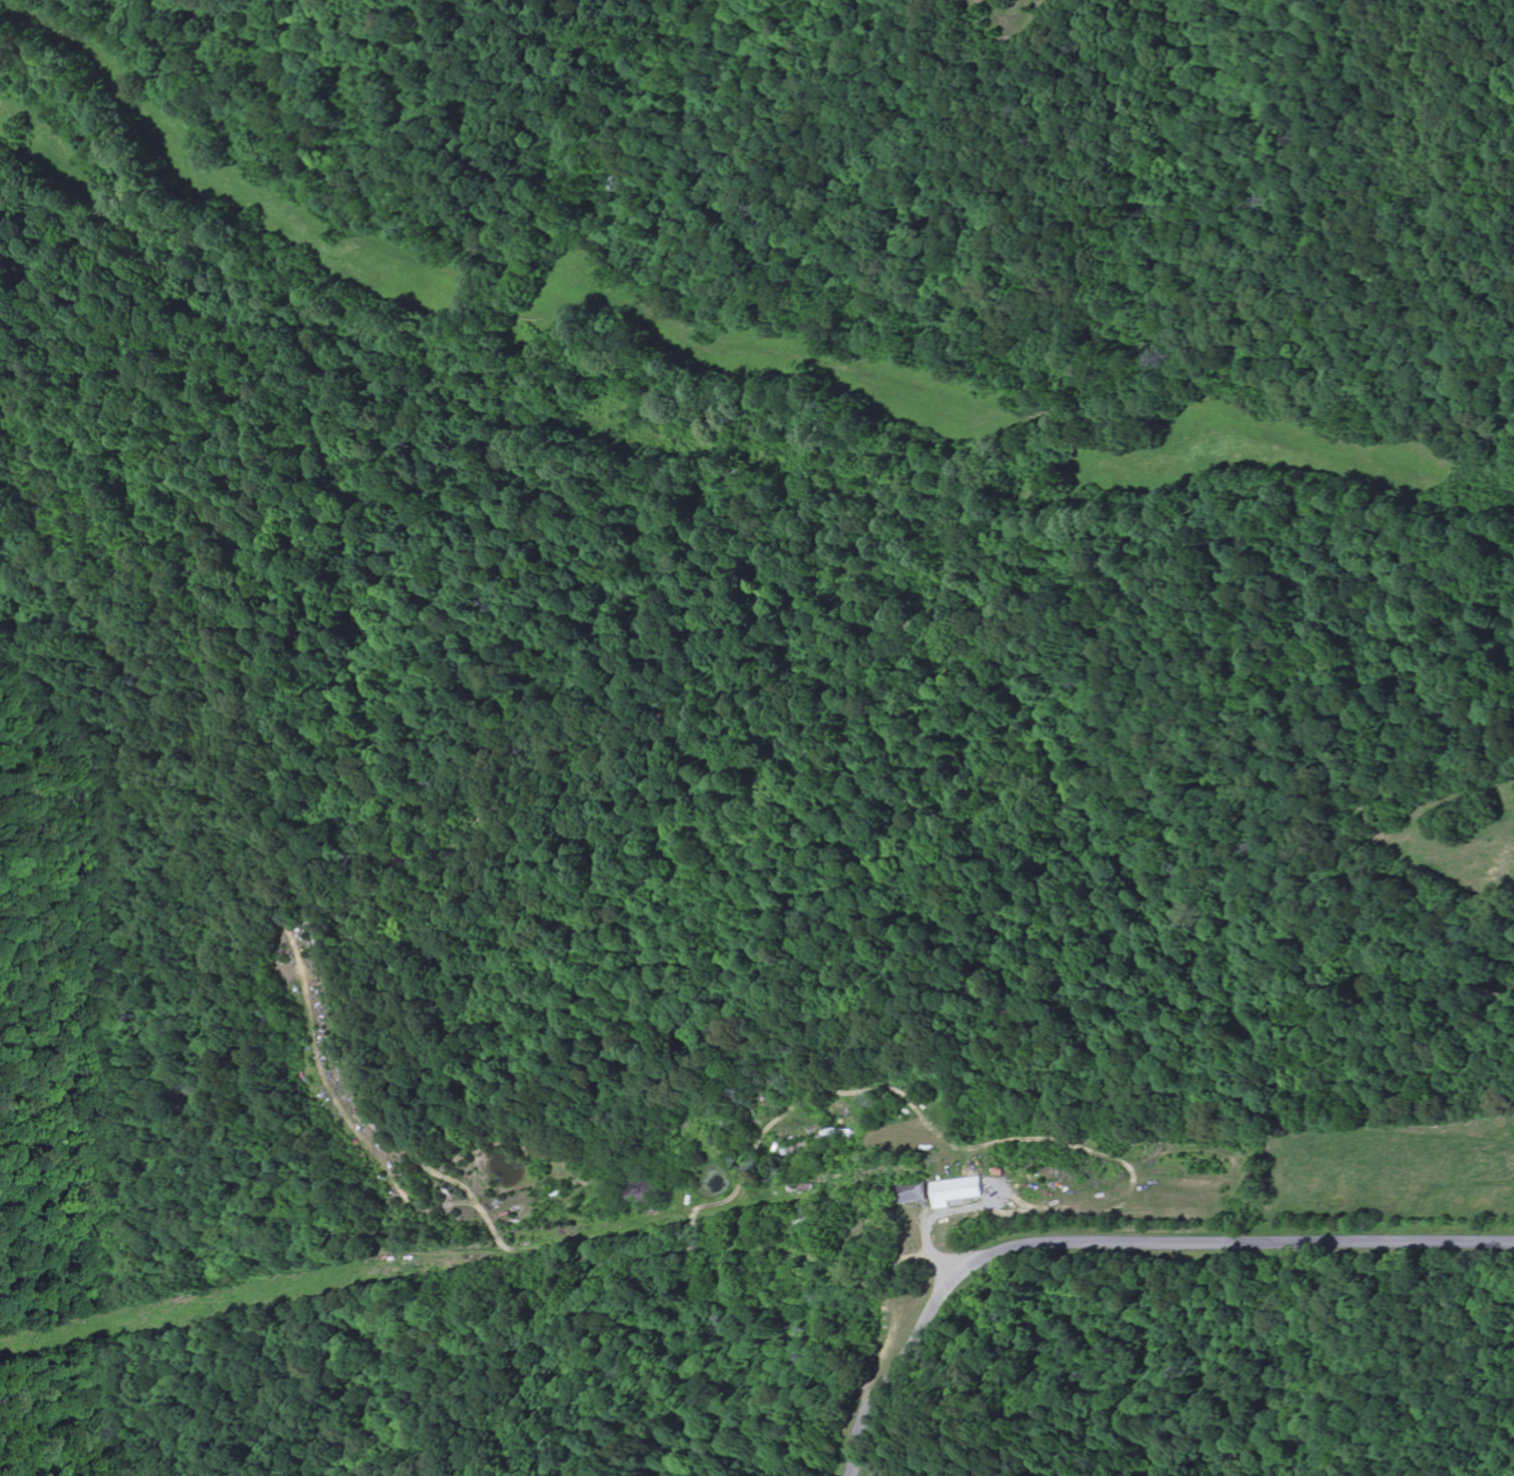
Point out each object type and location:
road: (384, 936)
building: (959, 1192)
road: (1118, 1240)

